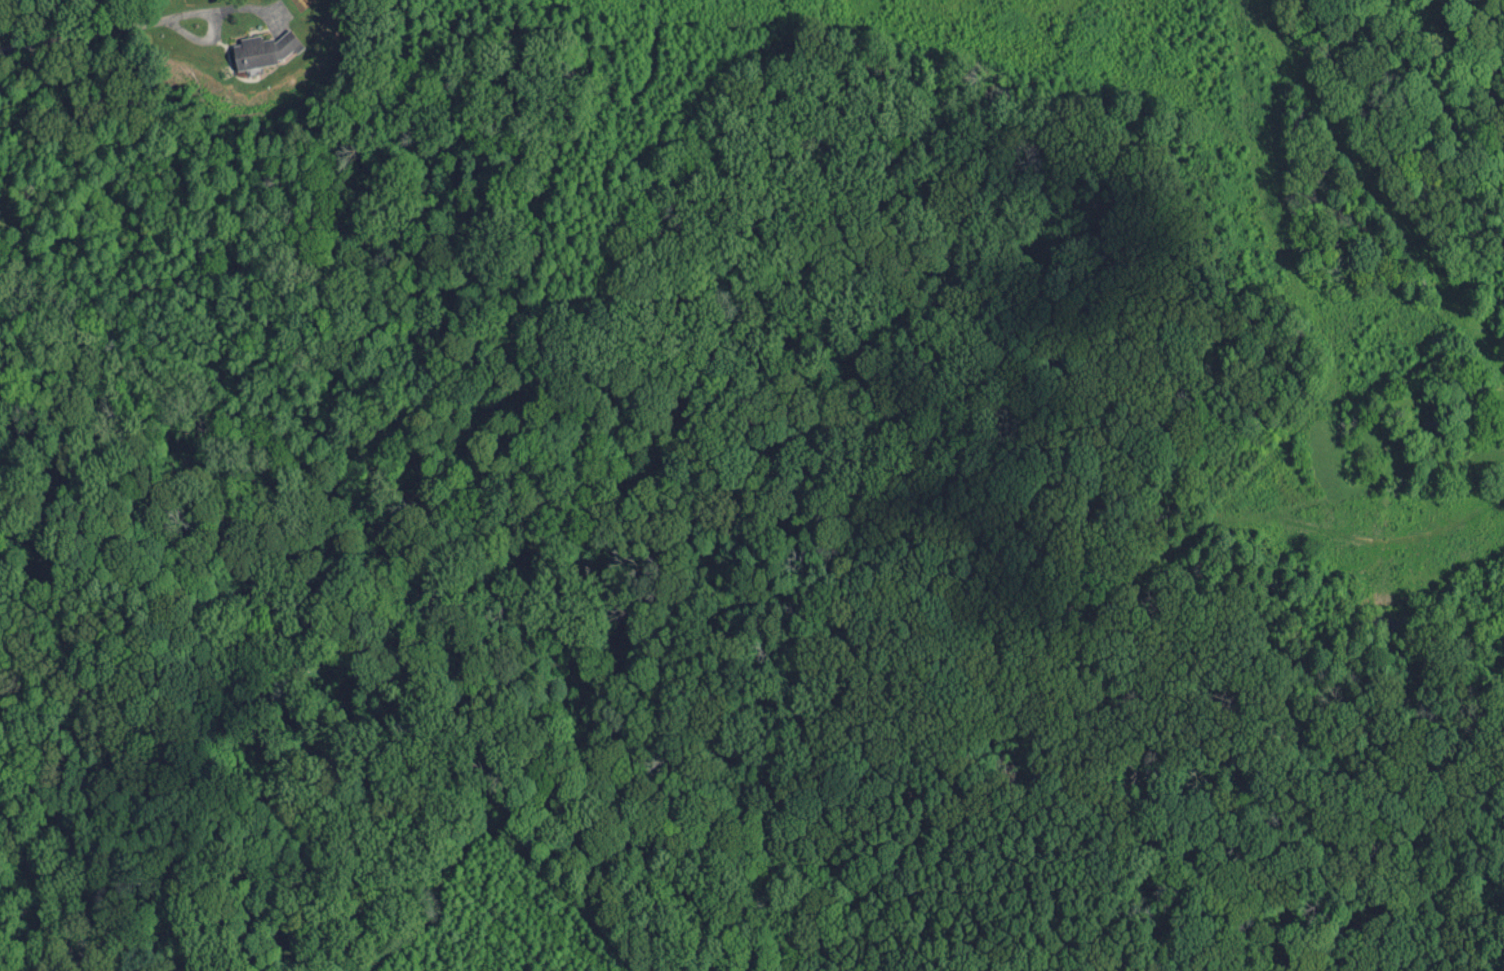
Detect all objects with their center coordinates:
road: (136, 27)
building: (264, 50)
road: (1407, 109)

